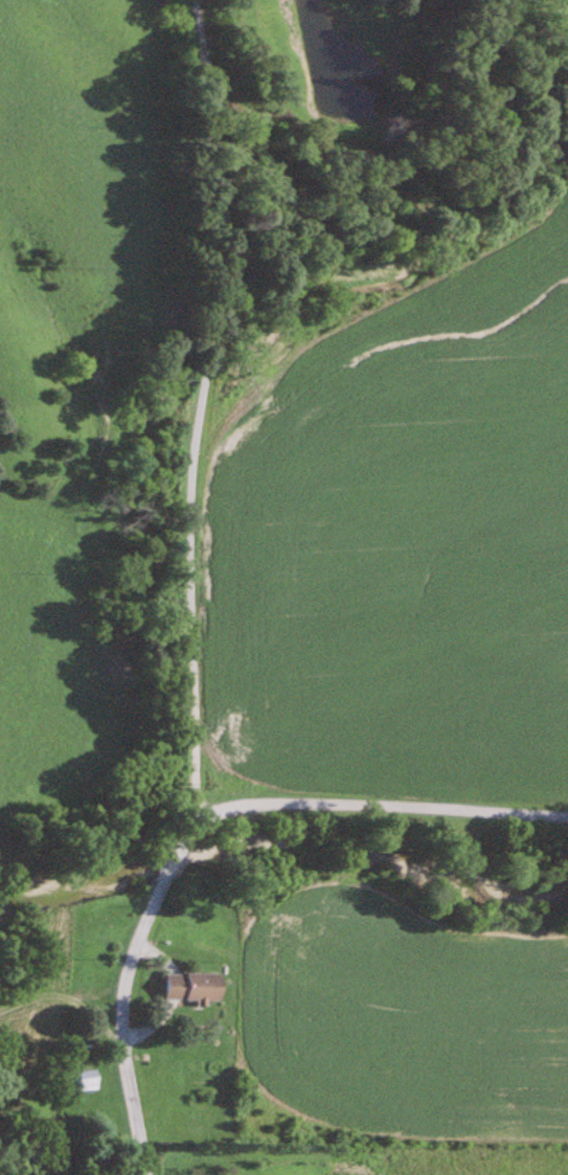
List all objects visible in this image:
road: (191, 595)
road: (380, 801)
building: (196, 984)
building: (93, 1077)

